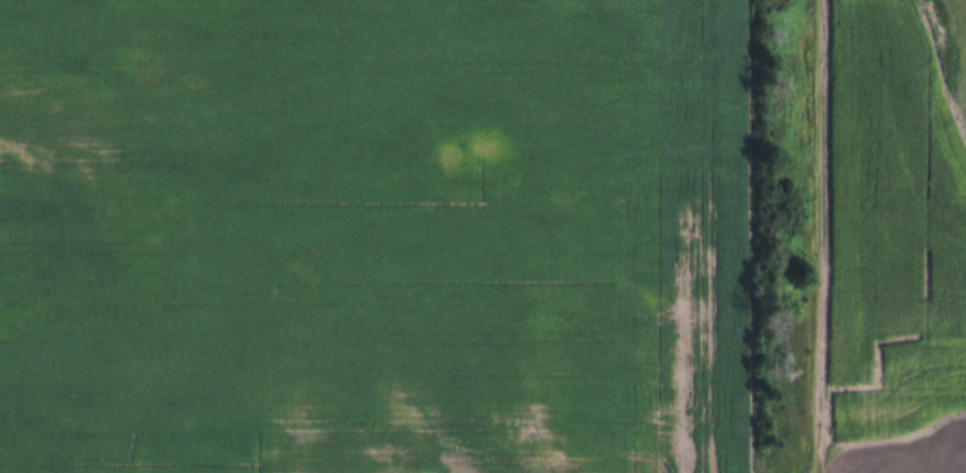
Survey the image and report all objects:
road: (812, 236)

